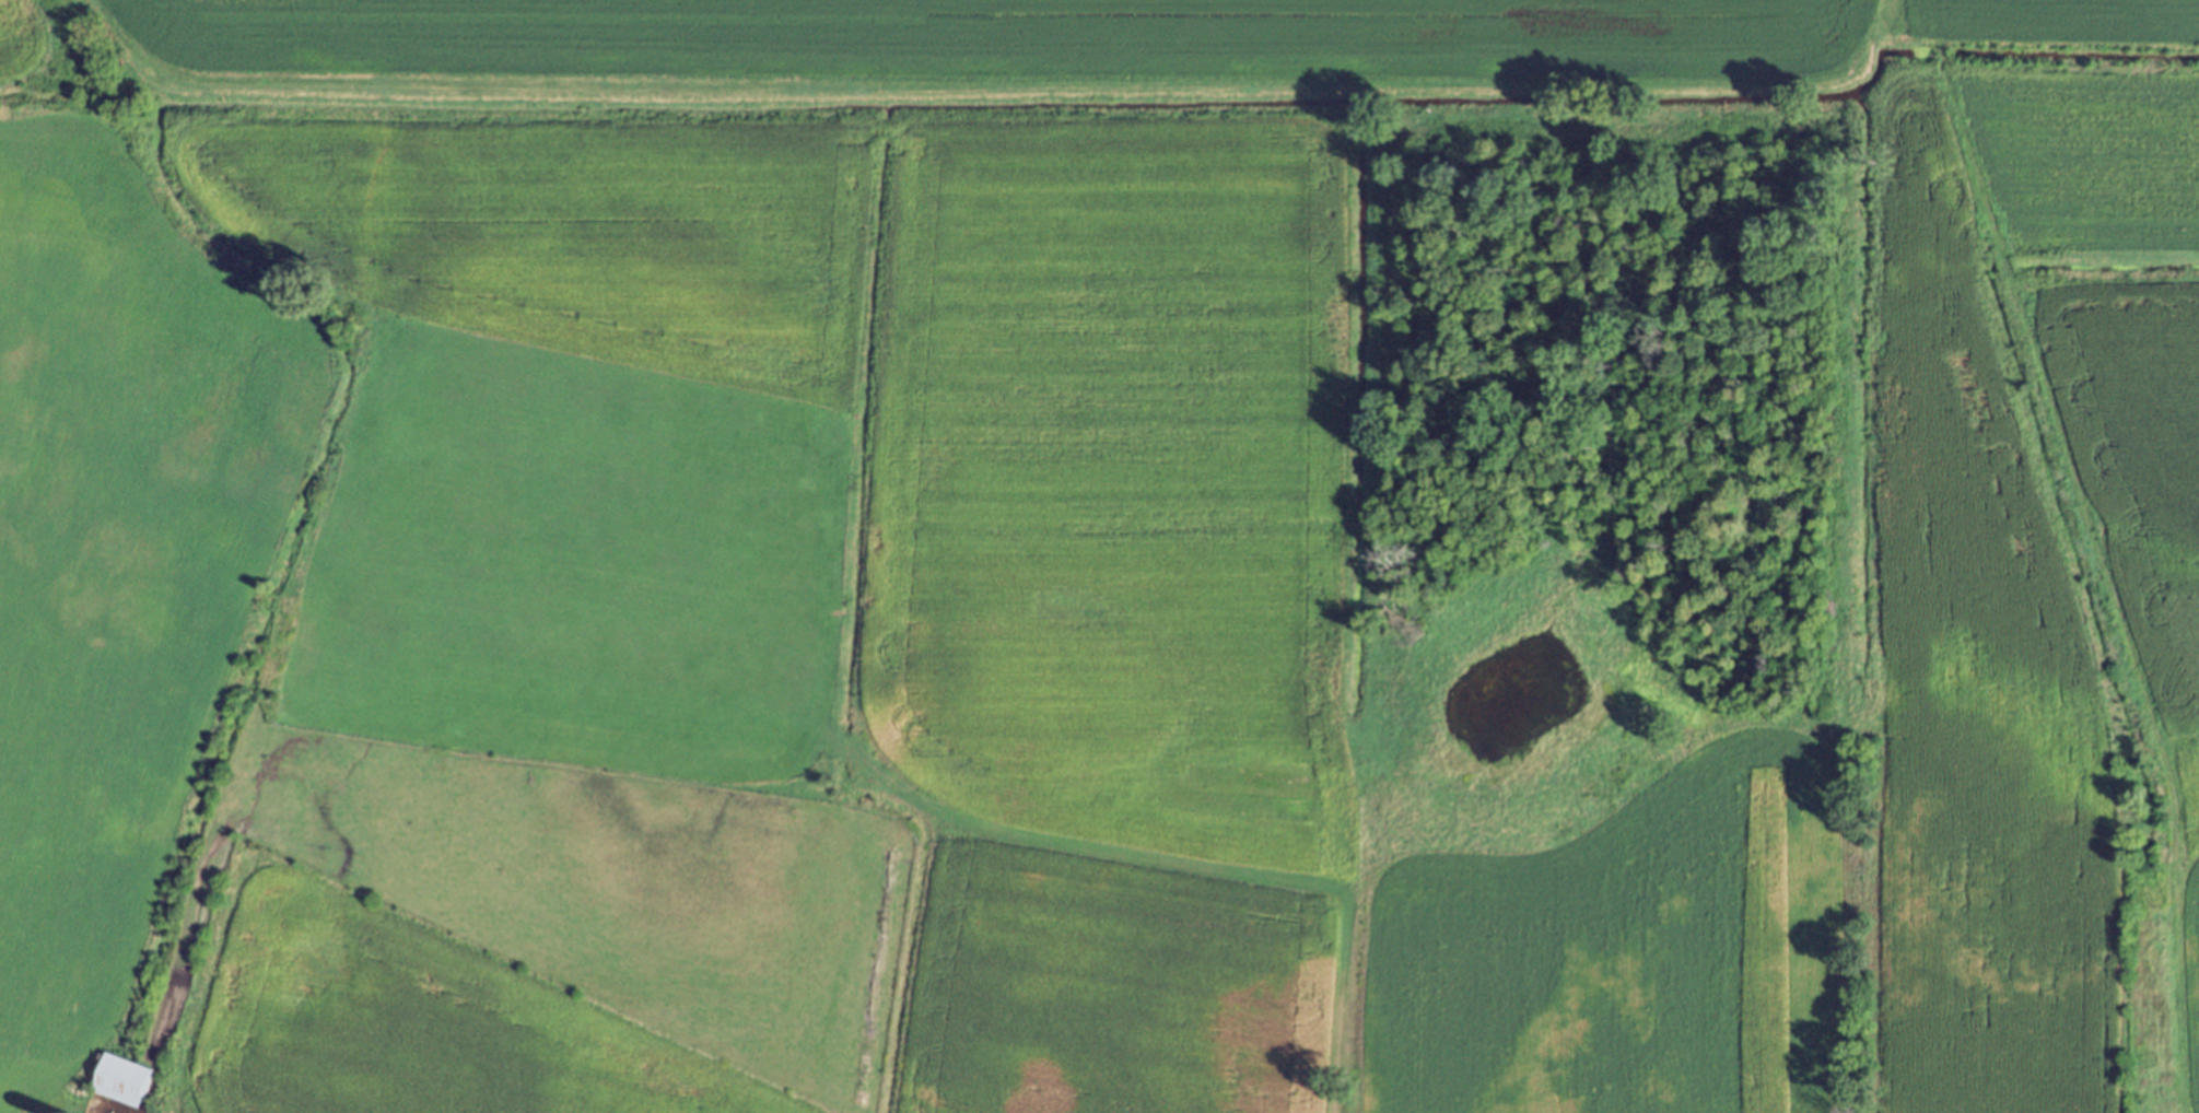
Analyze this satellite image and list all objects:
building: (126, 1085)

